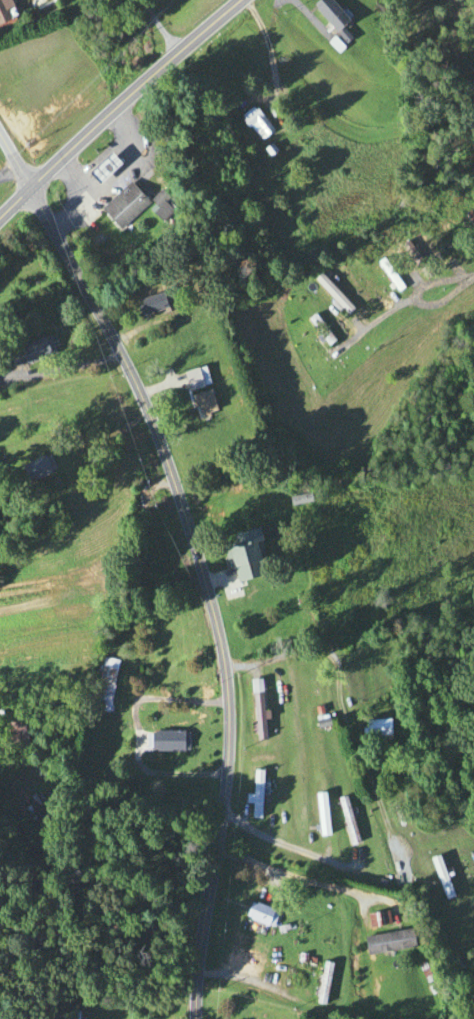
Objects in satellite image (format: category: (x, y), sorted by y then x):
building: (327, 15)
building: (1, 18)
road: (159, 25)
road: (116, 103)
building: (251, 125)
road: (13, 164)
building: (100, 170)
road: (8, 172)
building: (123, 207)
road: (467, 279)
building: (393, 286)
building: (329, 296)
road: (411, 302)
building: (149, 306)
building: (318, 332)
building: (24, 352)
road: (69, 366)
building: (188, 379)
building: (199, 403)
building: (31, 467)
building: (297, 499)
building: (242, 555)
road: (205, 585)
building: (103, 685)
road: (340, 705)
building: (256, 711)
building: (373, 728)
building: (11, 737)
building: (164, 741)
building: (253, 794)
building: (318, 815)
building: (344, 820)
road: (285, 848)
road: (297, 877)
building: (438, 878)
building: (257, 915)
building: (374, 920)
building: (386, 942)
road: (244, 981)
building: (138, 1002)
building: (70, 1015)

